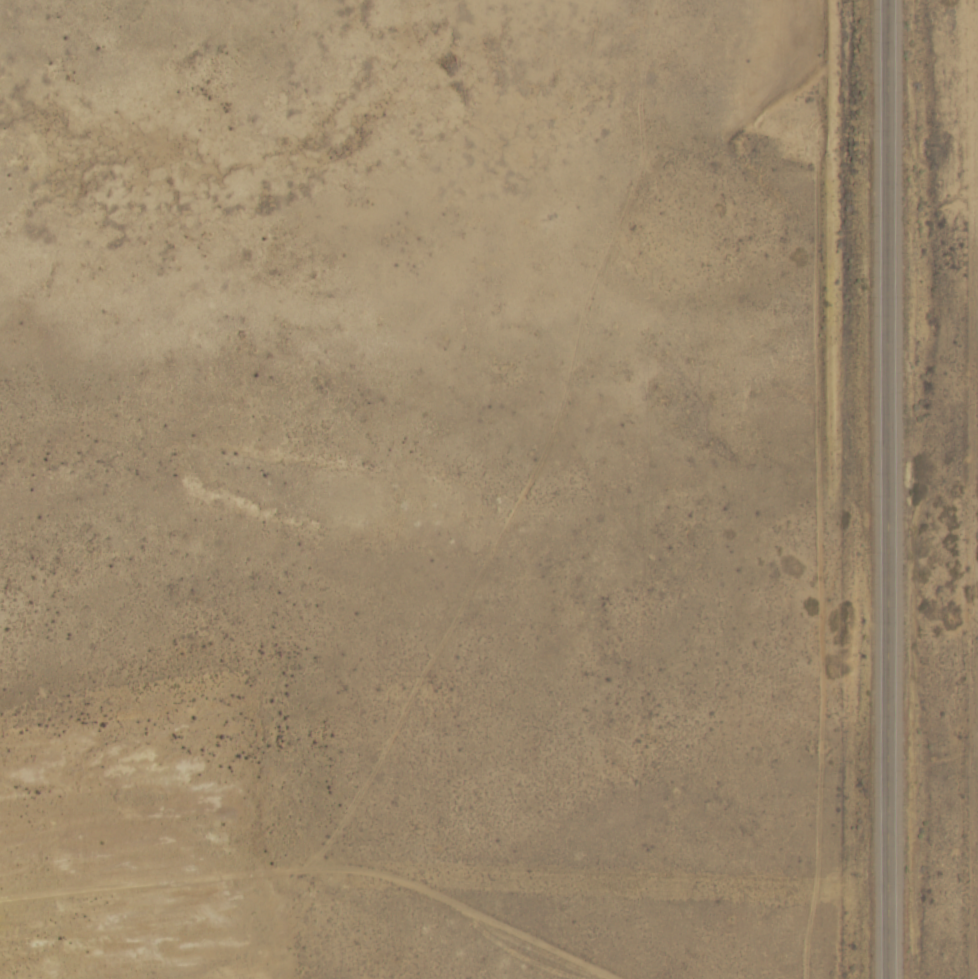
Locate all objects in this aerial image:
road: (893, 489)

